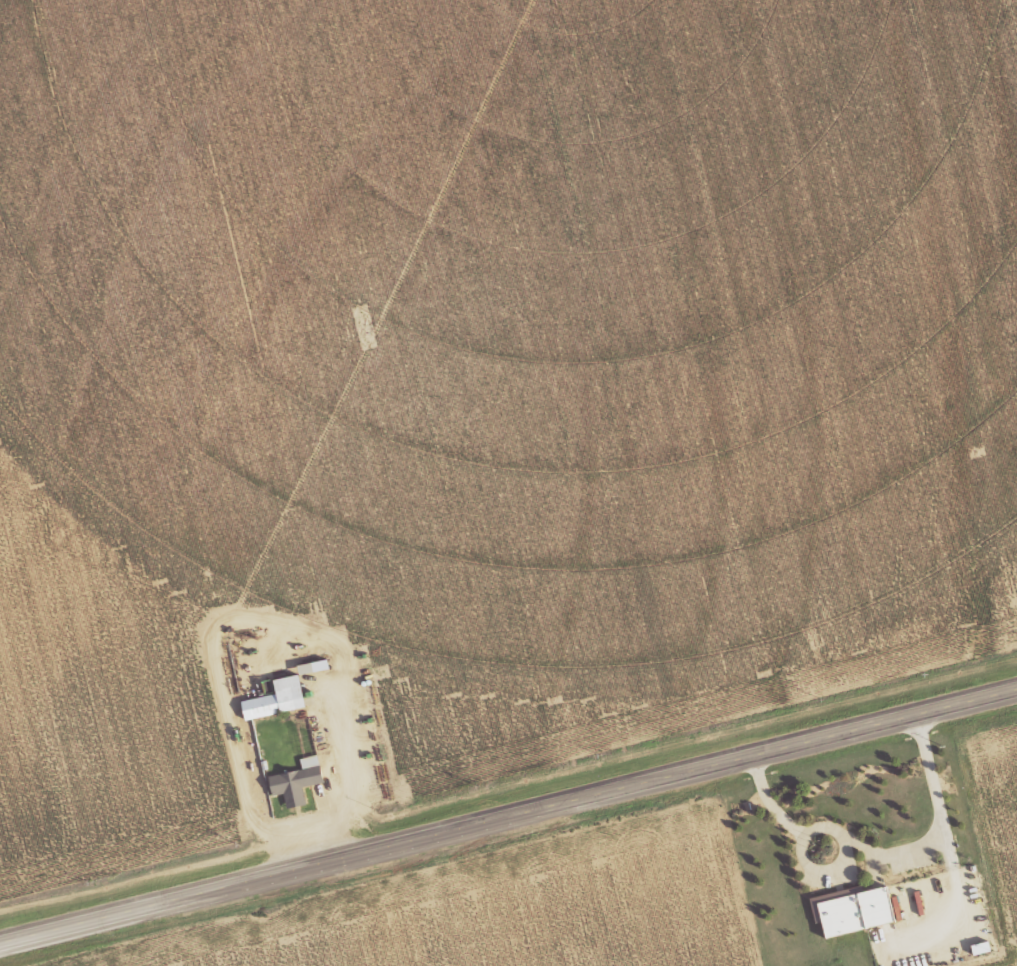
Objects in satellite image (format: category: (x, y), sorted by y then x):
building: (277, 699)
building: (292, 785)
road: (508, 816)
building: (856, 912)

